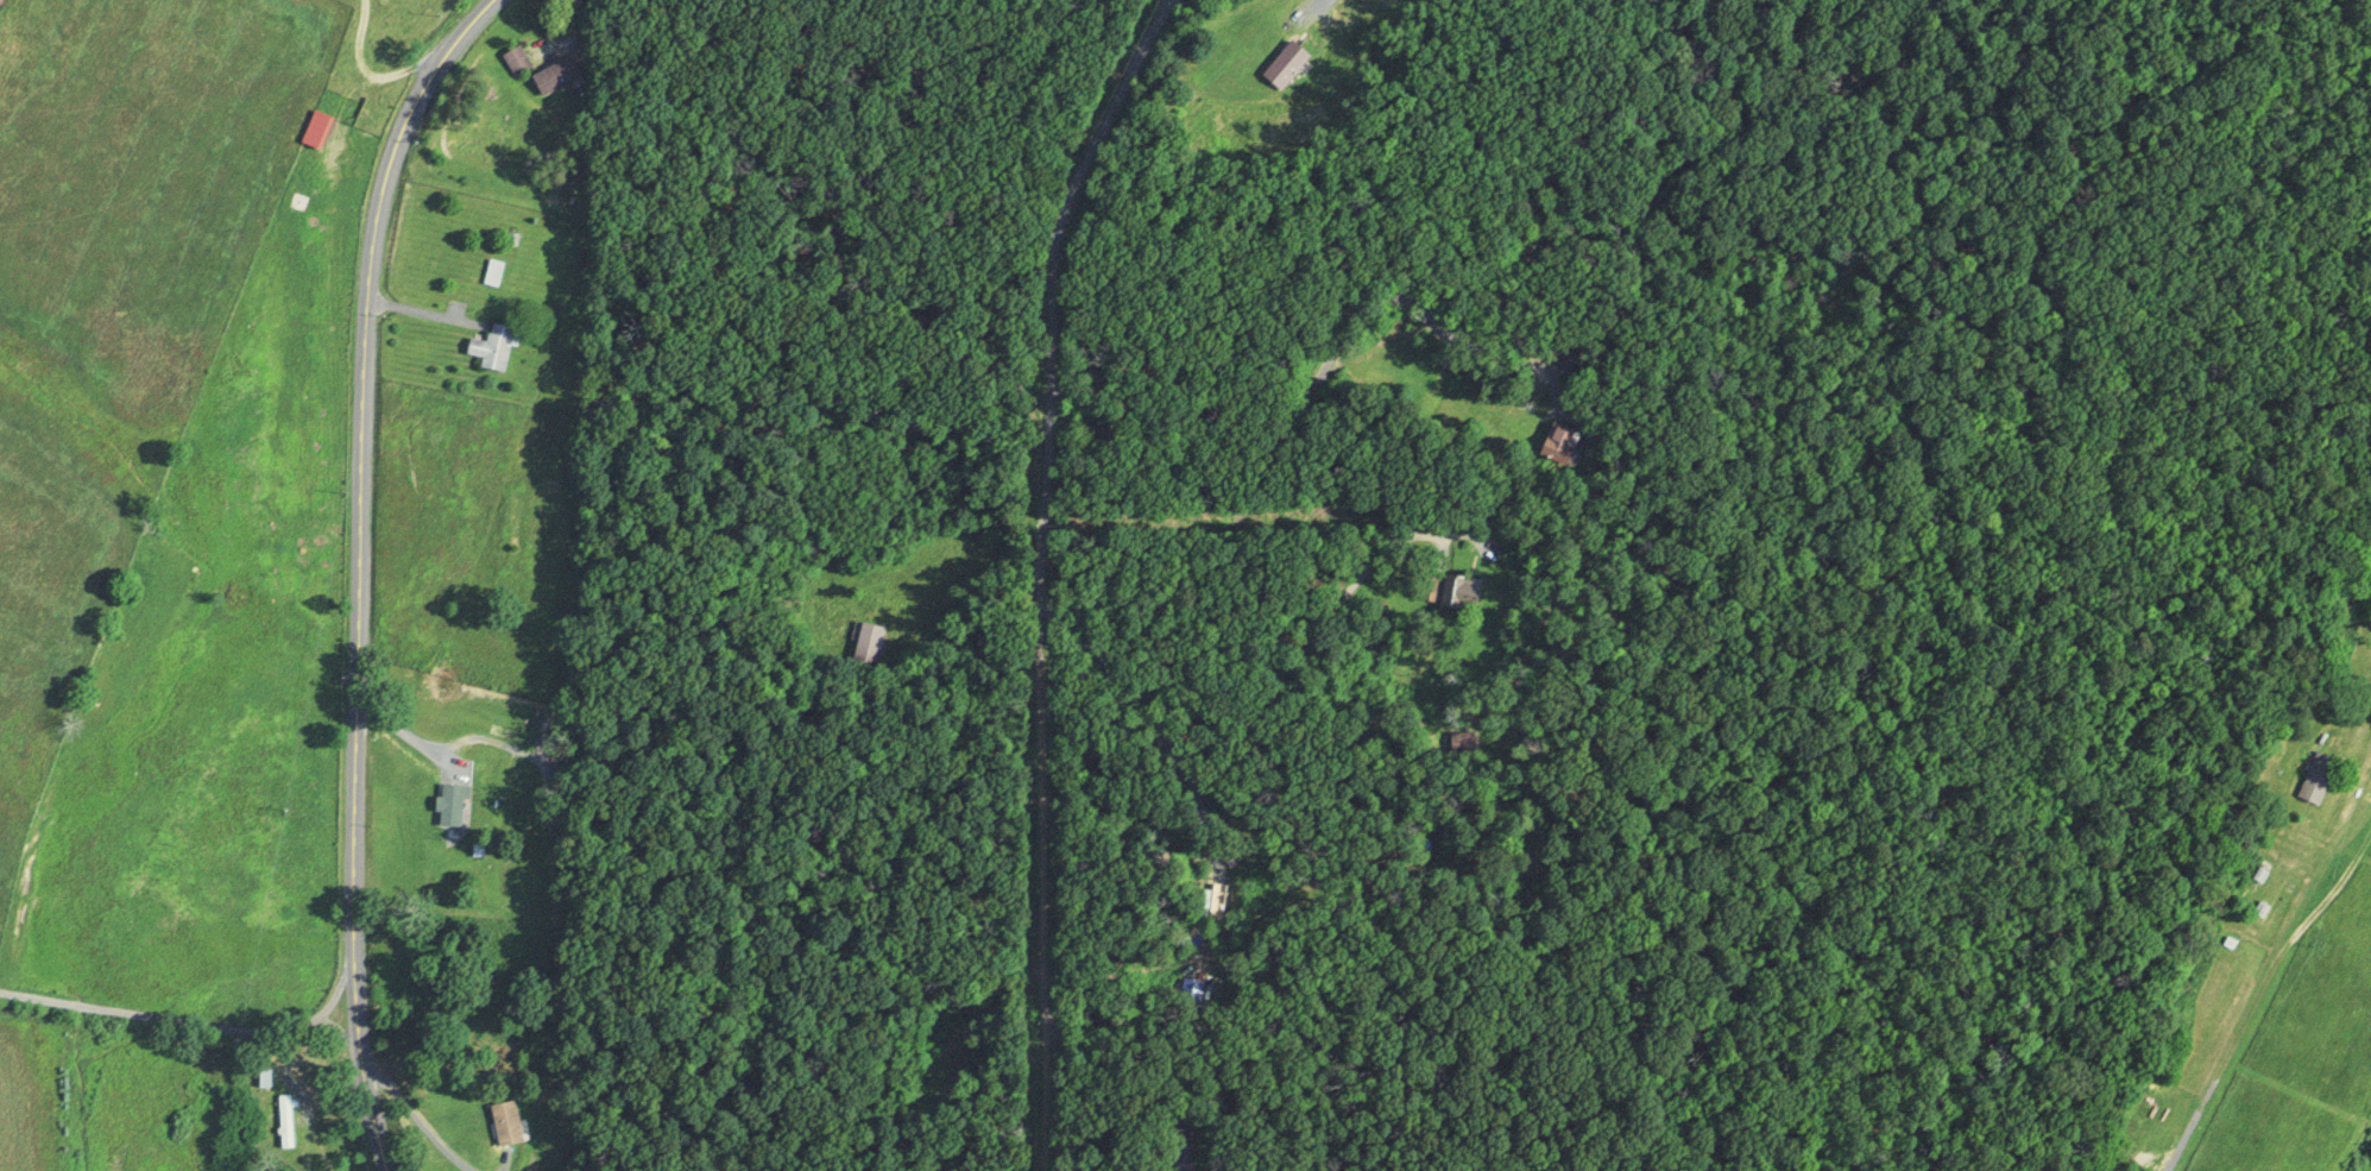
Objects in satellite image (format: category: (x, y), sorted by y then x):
building: (517, 59)
building: (1285, 64)
building: (314, 122)
building: (492, 272)
building: (493, 346)
road: (364, 569)
road: (1076, 579)
building: (1448, 588)
building: (2315, 777)
building: (450, 804)
road: (2300, 961)
road: (179, 1019)
building: (261, 1076)
building: (284, 1120)
building: (504, 1125)

